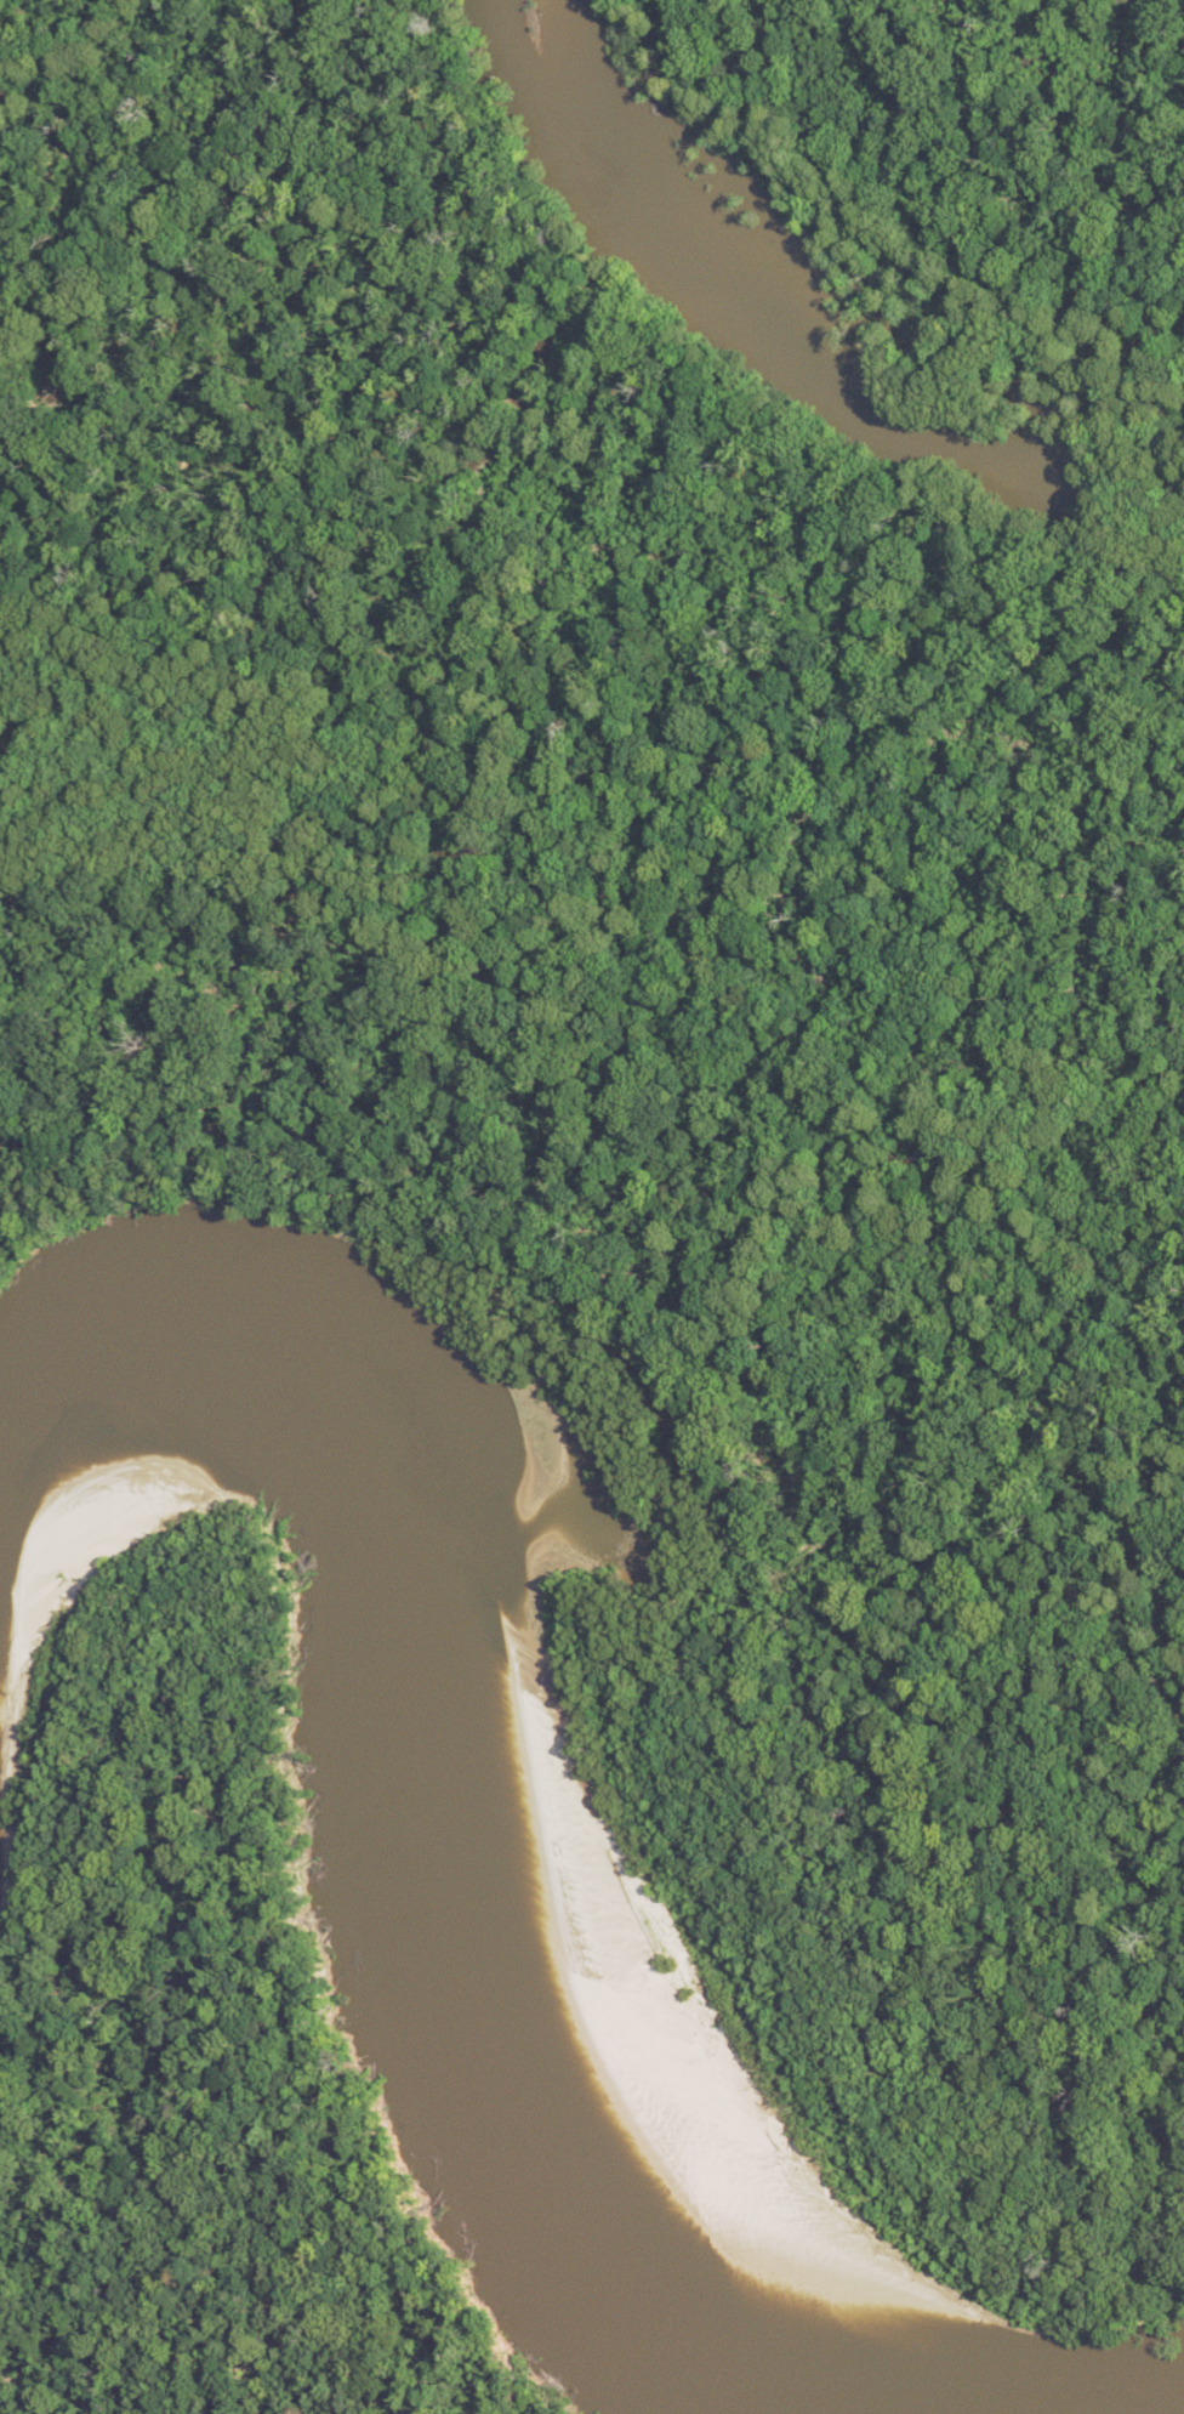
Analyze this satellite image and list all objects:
river: (519, 1728)

